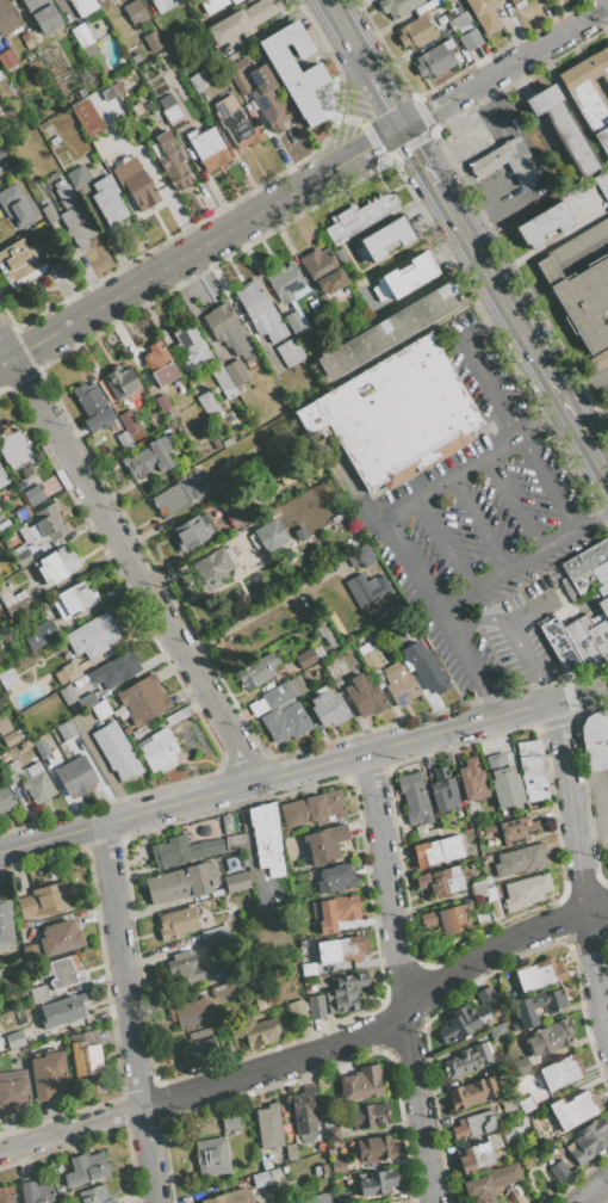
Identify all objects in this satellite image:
building: (441, 0)
building: (235, 1)
building: (516, 4)
building: (162, 5)
building: (212, 5)
building: (83, 6)
building: (397, 6)
building: (135, 12)
building: (484, 13)
building: (43, 14)
building: (6, 19)
building: (243, 20)
road: (602, 21)
road: (341, 23)
building: (465, 31)
building: (416, 33)
building: (81, 36)
building: (153, 39)
building: (7, 58)
building: (435, 60)
road: (365, 61)
building: (237, 68)
building: (294, 69)
building: (199, 81)
building: (112, 92)
building: (590, 94)
building: (167, 101)
road: (389, 101)
building: (269, 106)
road: (572, 106)
road: (349, 111)
building: (172, 112)
building: (88, 118)
building: (160, 121)
building: (236, 124)
road: (470, 127)
building: (563, 129)
building: (54, 141)
building: (207, 148)
building: (2, 153)
building: (101, 153)
road: (418, 155)
road: (490, 161)
building: (508, 161)
building: (175, 168)
building: (77, 175)
building: (135, 183)
road: (309, 184)
building: (602, 185)
building: (108, 202)
road: (500, 202)
building: (17, 205)
road: (396, 212)
building: (49, 214)
building: (73, 216)
building: (359, 216)
building: (544, 224)
building: (385, 239)
building: (340, 253)
building: (17, 260)
building: (323, 271)
building: (405, 277)
building: (285, 283)
road: (222, 284)
building: (579, 286)
building: (323, 302)
building: (259, 310)
road: (194, 313)
building: (294, 323)
building: (227, 329)
road: (522, 329)
building: (386, 332)
road: (255, 339)
building: (191, 346)
building: (290, 352)
building: (600, 359)
road: (474, 362)
road: (5, 363)
building: (160, 364)
building: (236, 372)
road: (317, 372)
building: (221, 378)
building: (122, 382)
road: (587, 389)
building: (162, 403)
building: (207, 403)
building: (92, 406)
building: (397, 414)
road: (593, 418)
building: (129, 421)
building: (124, 440)
building: (14, 449)
building: (147, 459)
building: (2, 477)
building: (224, 483)
road: (545, 483)
building: (33, 495)
building: (176, 496)
road: (511, 502)
building: (20, 513)
building: (240, 514)
parking lot: (477, 519)
road: (479, 522)
road: (381, 524)
building: (4, 528)
building: (44, 528)
building: (191, 531)
building: (300, 533)
building: (275, 535)
road: (443, 544)
building: (365, 555)
building: (21, 556)
road: (522, 559)
road: (128, 562)
building: (254, 565)
building: (56, 566)
building: (215, 566)
building: (588, 572)
building: (367, 588)
building: (10, 597)
building: (73, 599)
road: (531, 609)
building: (390, 612)
parking lot: (521, 630)
building: (324, 633)
building: (41, 635)
building: (93, 636)
road: (515, 637)
building: (577, 642)
building: (318, 652)
building: (306, 658)
building: (371, 661)
building: (426, 667)
building: (114, 670)
building: (70, 671)
building: (256, 671)
building: (6, 679)
building: (399, 684)
building: (297, 685)
building: (68, 695)
building: (365, 695)
building: (271, 698)
building: (143, 699)
building: (87, 701)
building: (328, 707)
building: (100, 709)
building: (120, 712)
building: (286, 723)
building: (4, 726)
building: (67, 730)
building: (126, 730)
building: (134, 734)
building: (10, 739)
building: (595, 741)
building: (116, 751)
building: (160, 752)
road: (304, 770)
building: (532, 770)
building: (11, 771)
building: (75, 777)
building: (471, 781)
building: (504, 782)
building: (37, 783)
building: (443, 790)
building: (5, 798)
building: (414, 798)
building: (312, 809)
building: (224, 822)
building: (488, 829)
building: (203, 831)
building: (517, 831)
building: (424, 832)
building: (267, 838)
building: (235, 843)
building: (224, 844)
building: (324, 844)
building: (289, 849)
building: (182, 851)
building: (436, 851)
building: (520, 860)
building: (231, 864)
road: (579, 868)
building: (335, 878)
building: (440, 881)
building: (486, 881)
building: (236, 882)
building: (182, 883)
building: (477, 889)
building: (526, 892)
building: (46, 901)
building: (492, 903)
building: (336, 912)
building: (300, 918)
building: (482, 918)
building: (447, 919)
building: (178, 923)
building: (5, 925)
building: (213, 932)
building: (60, 938)
building: (341, 949)
building: (31, 955)
building: (308, 969)
building: (184, 970)
building: (60, 971)
building: (539, 974)
road: (398, 977)
building: (225, 988)
building: (38, 993)
building: (345, 993)
building: (261, 1004)
building: (539, 1006)
building: (316, 1007)
building: (299, 1010)
building: (62, 1011)
building: (192, 1012)
road: (128, 1013)
building: (20, 1017)
building: (467, 1017)
building: (260, 1032)
building: (497, 1032)
building: (204, 1034)
building: (548, 1038)
building: (14, 1039)
building: (0, 1047)
building: (199, 1054)
road: (316, 1054)
building: (87, 1060)
building: (467, 1060)
building: (521, 1066)
building: (562, 1072)
building: (48, 1075)
building: (361, 1084)
building: (14, 1092)
building: (472, 1093)
building: (508, 1105)
building: (526, 1105)
building: (575, 1110)
building: (304, 1113)
building: (368, 1115)
building: (229, 1123)
building: (330, 1124)
building: (474, 1125)
building: (268, 1127)
building: (589, 1141)
building: (373, 1148)
building: (482, 1150)
building: (291, 1152)
building: (211, 1156)
building: (339, 1165)
building: (86, 1168)
building: (56, 1170)
building: (558, 1170)
building: (377, 1183)
building: (491, 1183)
road: (593, 1190)
building: (35, 1191)
building: (6, 1195)
building: (94, 1195)
building: (231, 1197)
building: (341, 1197)
building: (317, 1198)
building: (387, 1202)

